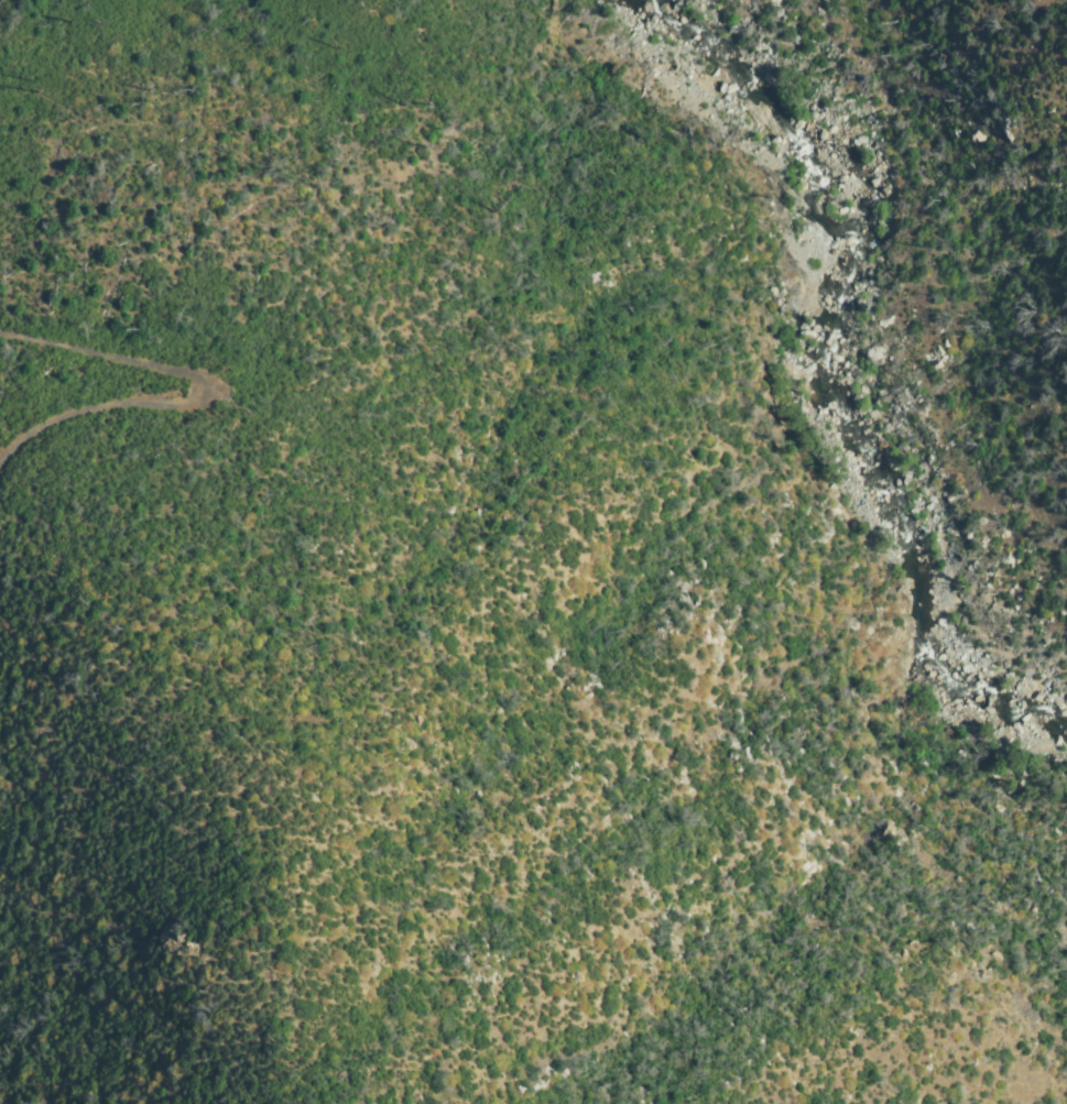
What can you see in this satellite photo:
river: (838, 364)
road: (199, 394)

